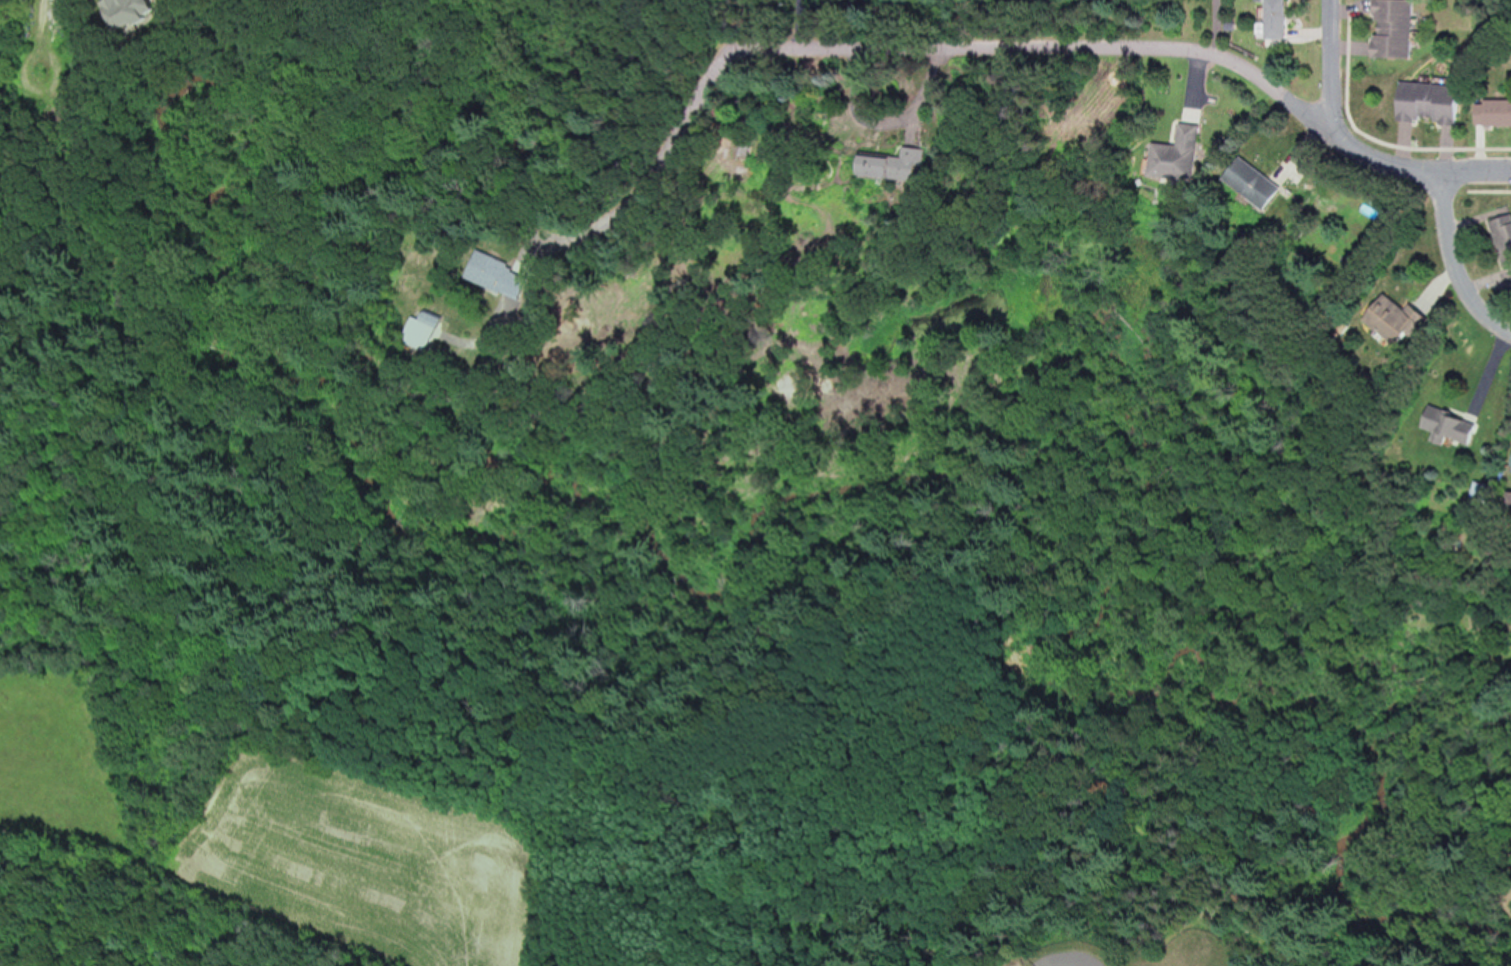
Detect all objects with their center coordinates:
road: (45, 11)
building: (142, 12)
building: (1270, 19)
building: (1386, 29)
road: (1014, 47)
road: (1331, 65)
road: (41, 93)
building: (1422, 103)
building: (1490, 113)
building: (1170, 154)
building: (883, 168)
building: (1239, 178)
building: (1501, 239)
road: (1452, 265)
building: (491, 275)
building: (1381, 319)
building: (432, 329)
building: (1441, 426)
building: (1508, 464)
crop: (281, 834)

